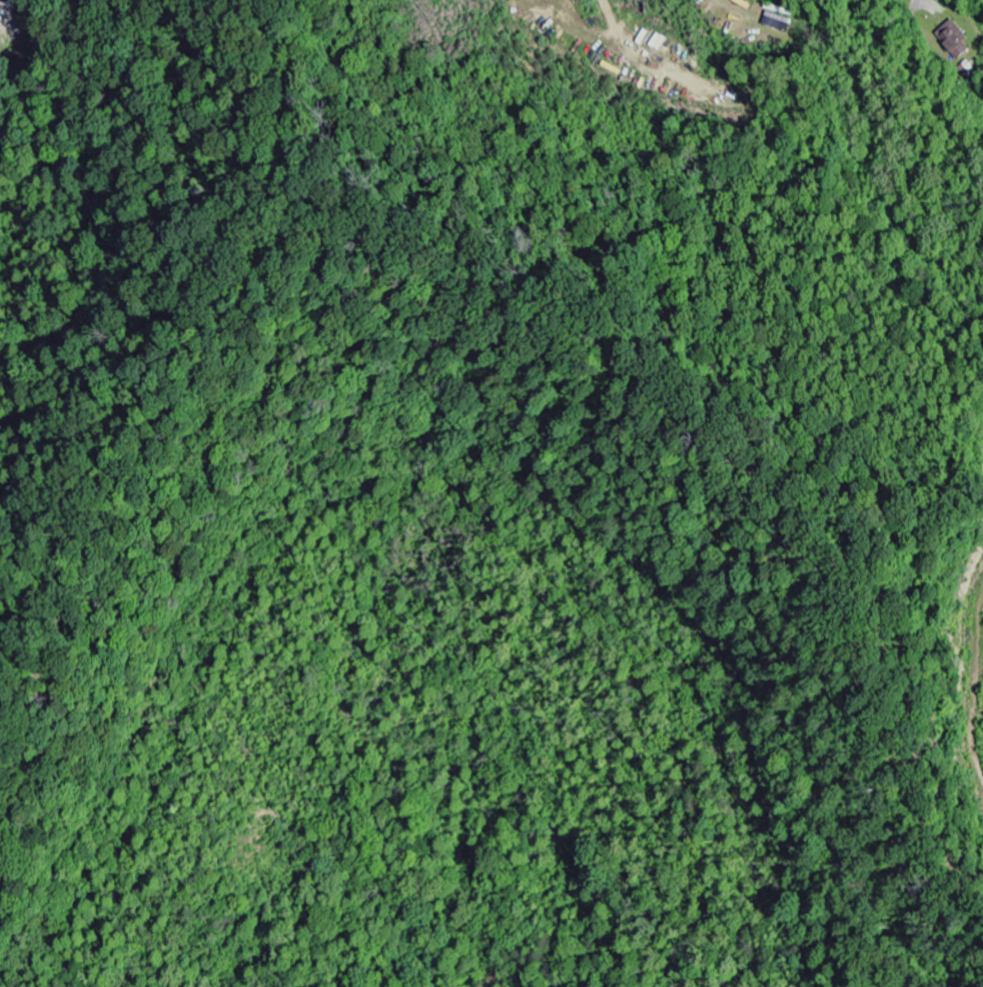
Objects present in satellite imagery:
building: (779, 19)
building: (956, 41)

